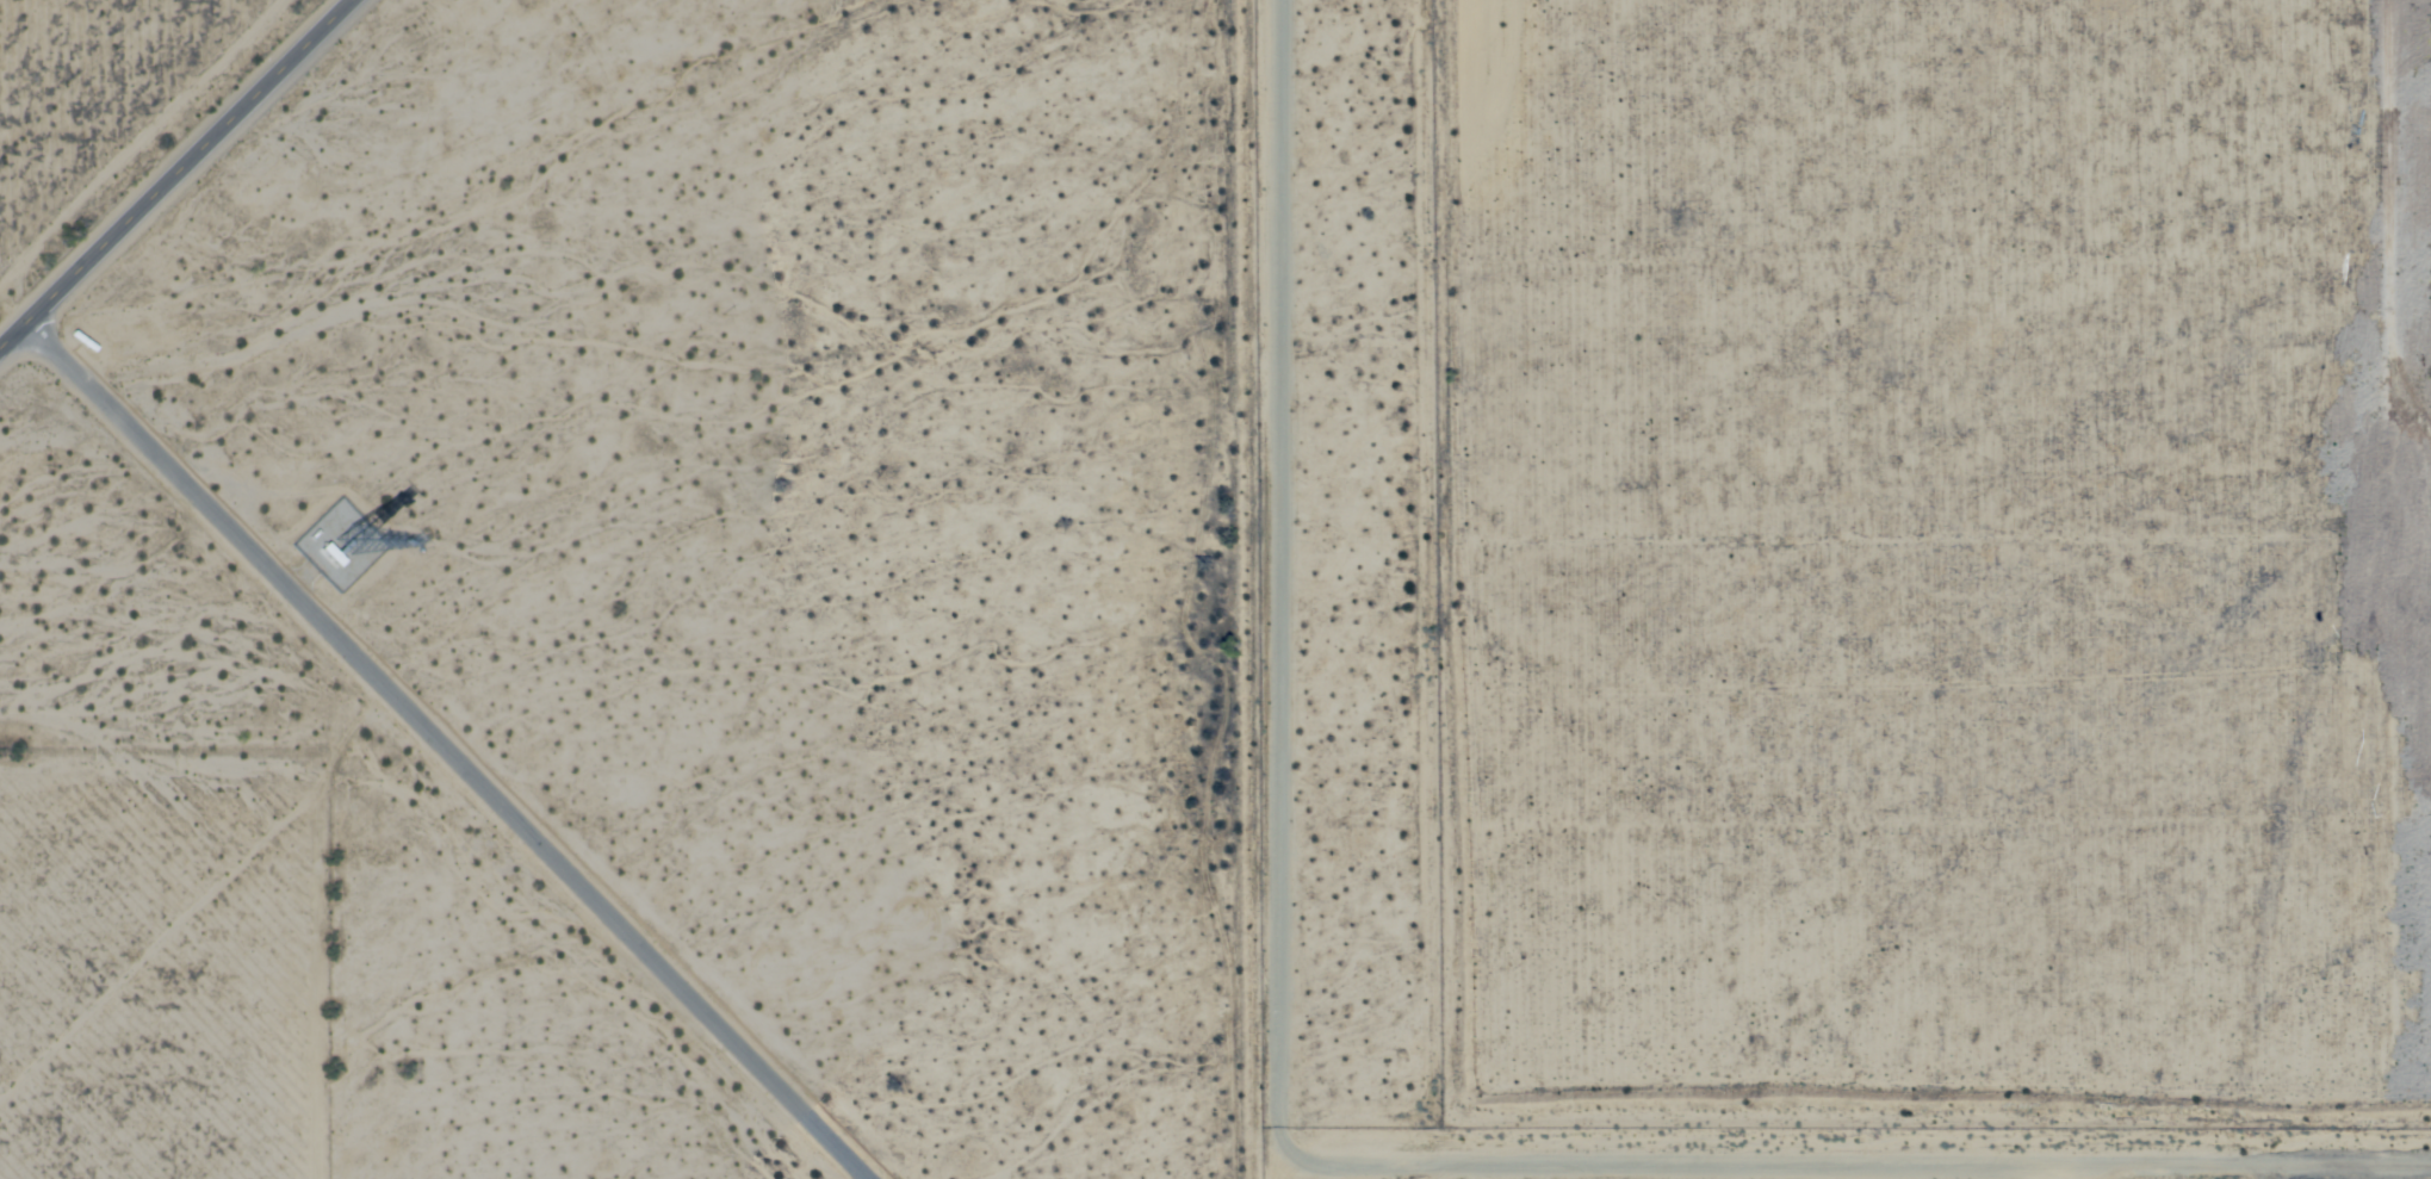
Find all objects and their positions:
road: (187, 160)
road: (13, 331)
road: (446, 749)

